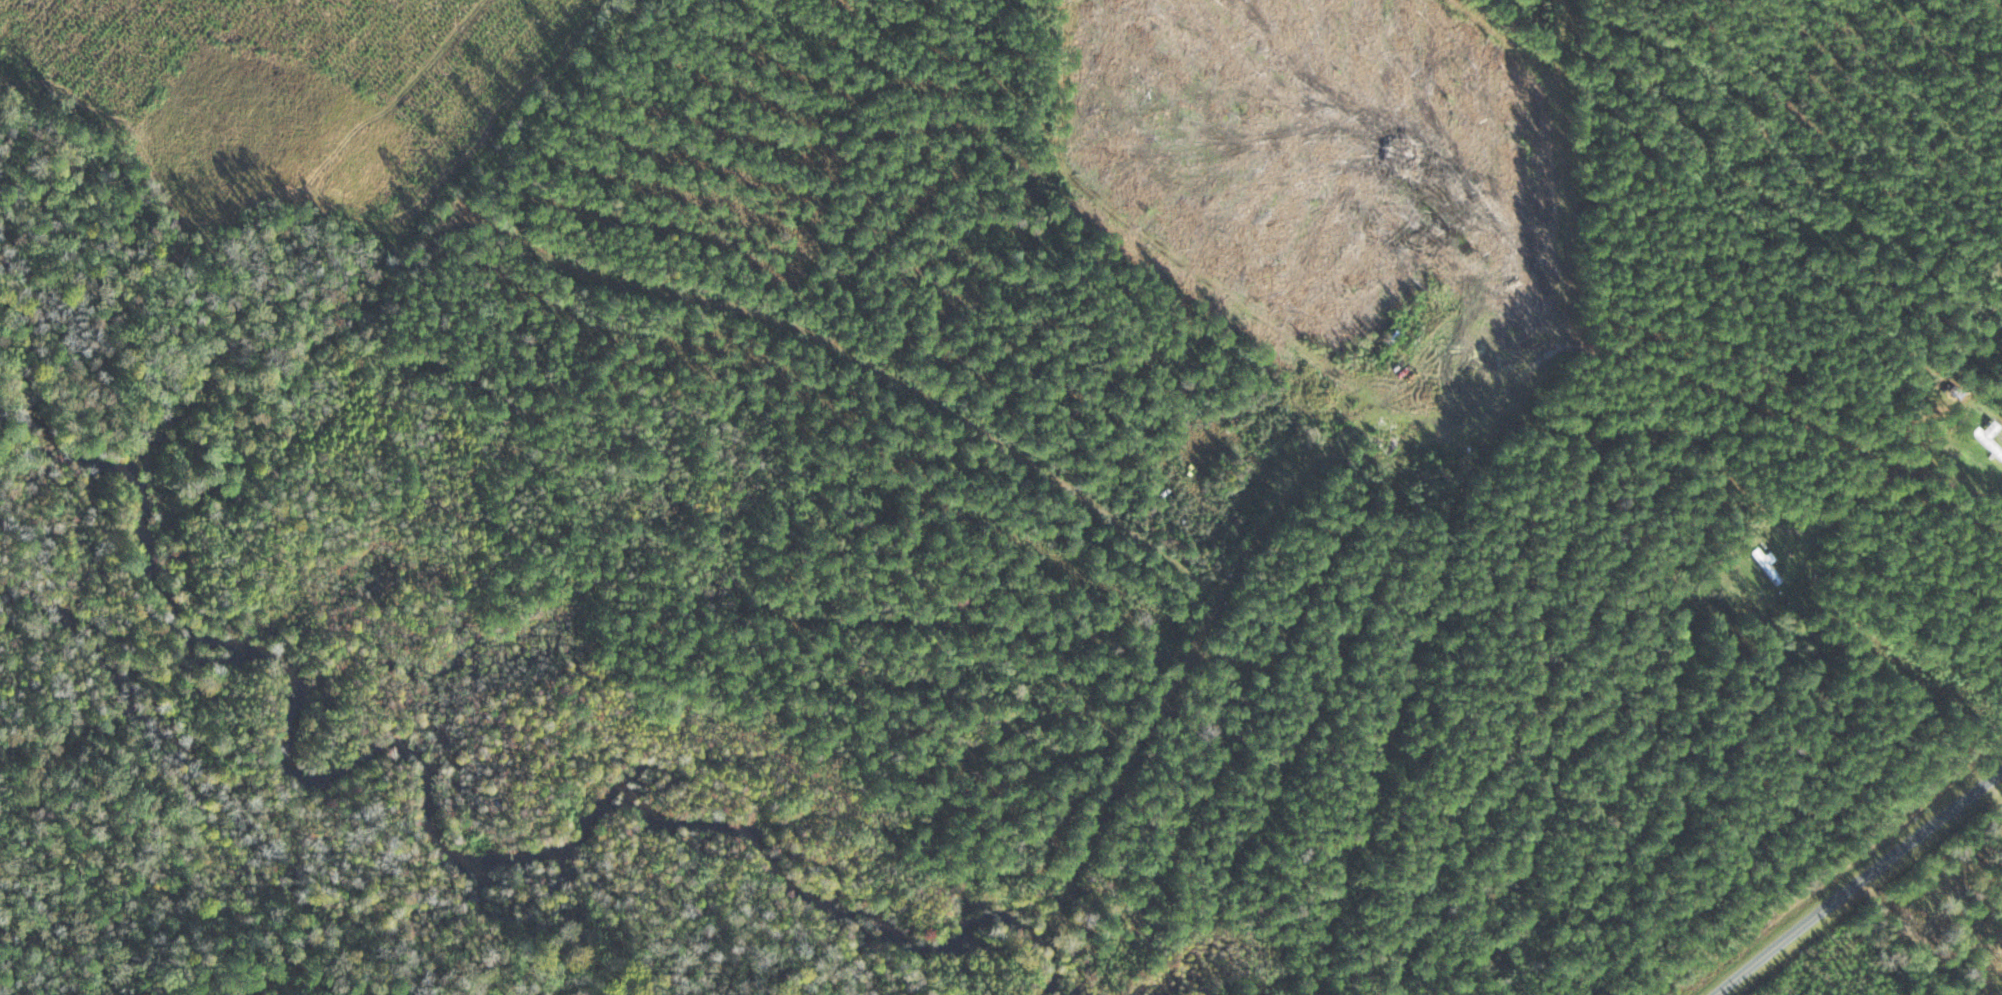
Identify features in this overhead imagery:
building: (1988, 440)
road: (1860, 884)

